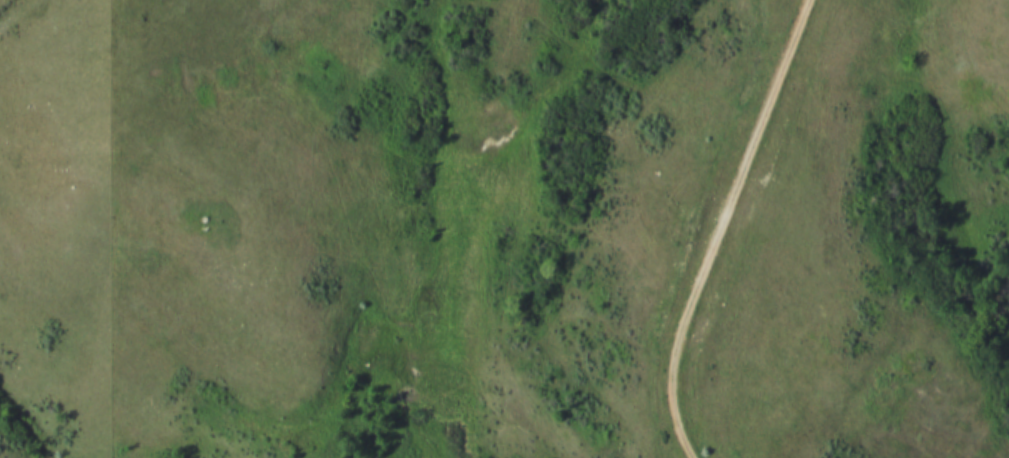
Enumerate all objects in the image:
road: (721, 227)

